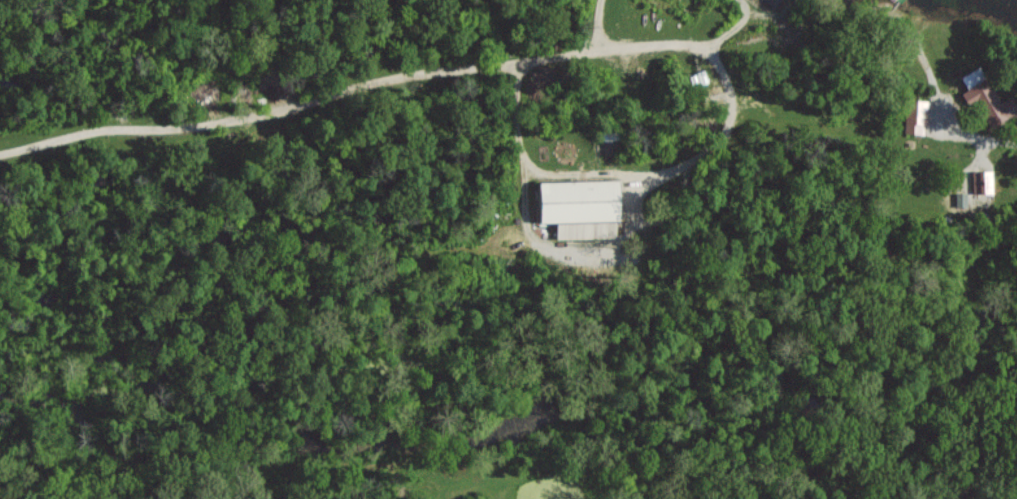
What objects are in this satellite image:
road: (598, 24)
road: (733, 28)
road: (930, 79)
road: (260, 113)
building: (918, 116)
road: (990, 143)
road: (711, 145)
building: (582, 205)

